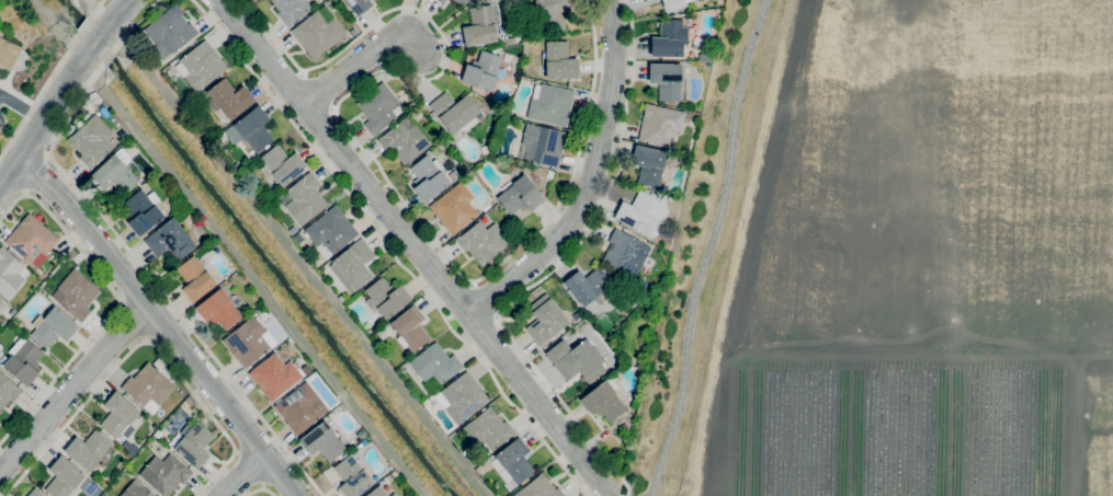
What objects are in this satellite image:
building: (645, 0)
building: (647, 0)
building: (441, 1)
building: (461, 2)
building: (672, 4)
building: (359, 5)
building: (291, 9)
building: (552, 14)
building: (480, 26)
building: (169, 32)
building: (352, 32)
building: (317, 34)
building: (669, 39)
building: (509, 41)
building: (8, 54)
park: (23, 57)
building: (507, 58)
building: (559, 61)
building: (201, 66)
building: (481, 71)
road: (361, 77)
road: (52, 79)
building: (666, 80)
road: (64, 90)
building: (229, 99)
building: (550, 104)
road: (22, 106)
building: (378, 108)
building: (455, 112)
building: (660, 125)
building: (251, 129)
building: (405, 139)
building: (91, 141)
building: (542, 145)
road: (372, 155)
building: (237, 165)
building: (282, 165)
building: (649, 165)
building: (116, 172)
road: (37, 174)
building: (549, 175)
building: (428, 177)
building: (456, 177)
road: (594, 181)
building: (268, 193)
building: (520, 196)
building: (305, 199)
building: (454, 208)
building: (143, 210)
building: (640, 211)
building: (330, 231)
building: (31, 239)
building: (297, 239)
building: (170, 240)
building: (482, 242)
road: (418, 246)
road: (127, 247)
road: (389, 247)
road: (708, 247)
building: (625, 254)
park: (891, 257)
building: (353, 265)
road: (553, 270)
building: (10, 273)
building: (195, 279)
building: (587, 285)
building: (76, 295)
building: (387, 297)
road: (485, 301)
building: (1, 304)
road: (118, 305)
building: (218, 309)
building: (545, 320)
road: (163, 323)
building: (53, 327)
building: (410, 328)
building: (25, 331)
building: (249, 342)
road: (143, 343)
building: (23, 361)
building: (579, 364)
building: (435, 365)
building: (274, 377)
building: (148, 388)
road: (75, 390)
building: (8, 391)
building: (461, 397)
building: (603, 400)
building: (300, 407)
building: (117, 415)
building: (487, 431)
building: (322, 442)
building: (192, 445)
building: (88, 450)
building: (514, 461)
building: (164, 474)
road: (243, 474)
building: (64, 477)
building: (352, 477)
building: (538, 487)
building: (136, 489)
road: (261, 491)
building: (377, 492)
building: (34, 493)
building: (393, 495)

